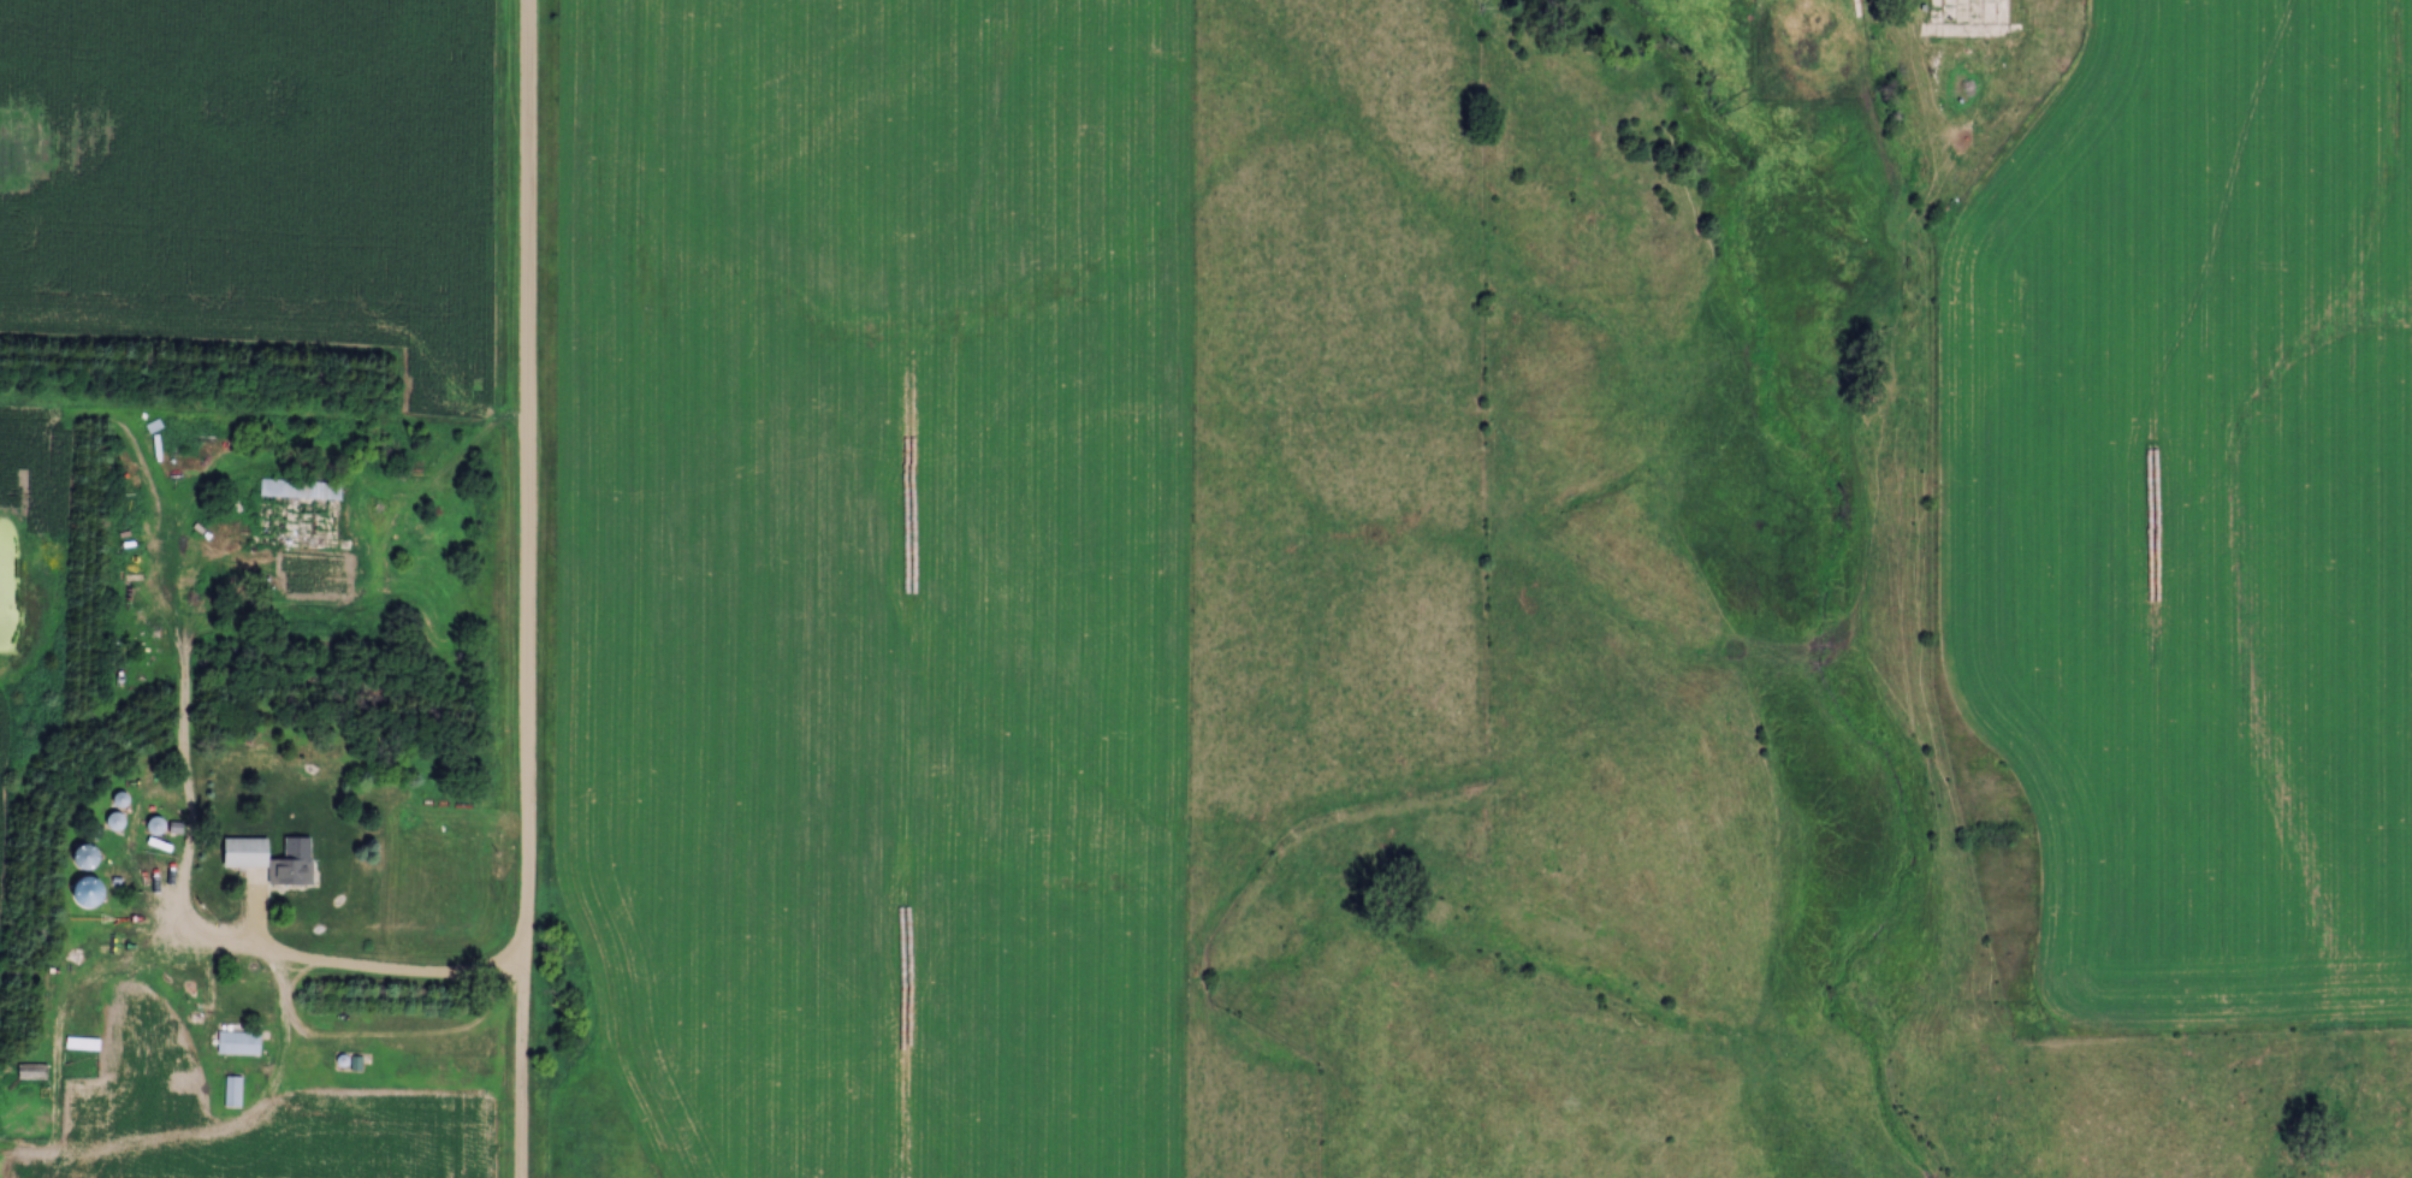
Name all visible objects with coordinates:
building: (295, 490)
road: (528, 490)
building: (267, 862)
road: (375, 975)
building: (239, 1043)
building: (35, 1072)
building: (235, 1093)

